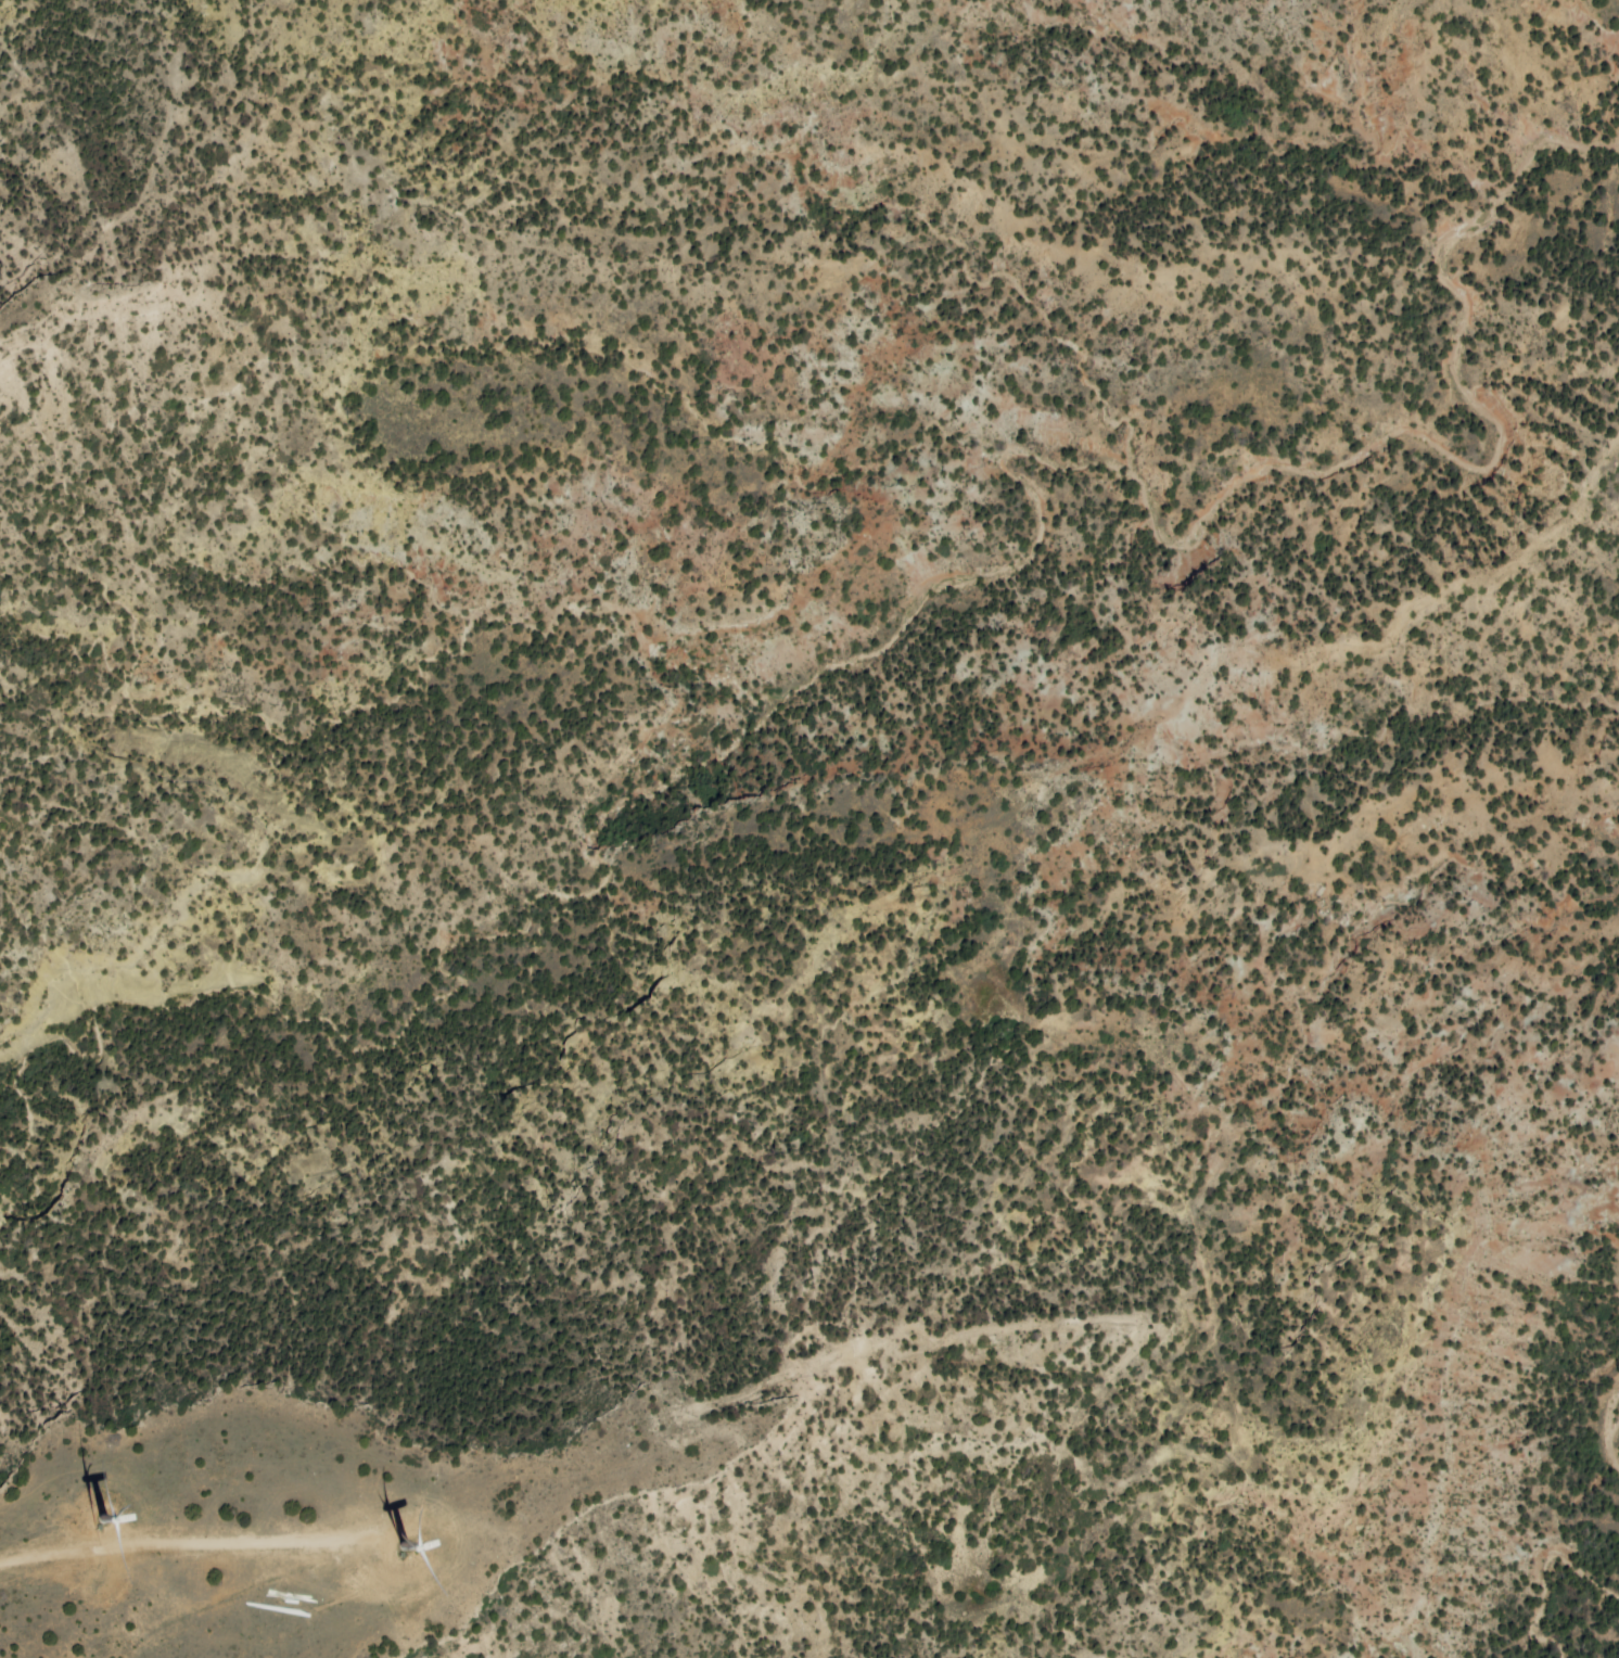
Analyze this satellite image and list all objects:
wind turbine: (100, 1519)
road: (179, 1544)
wind turbine: (401, 1546)

